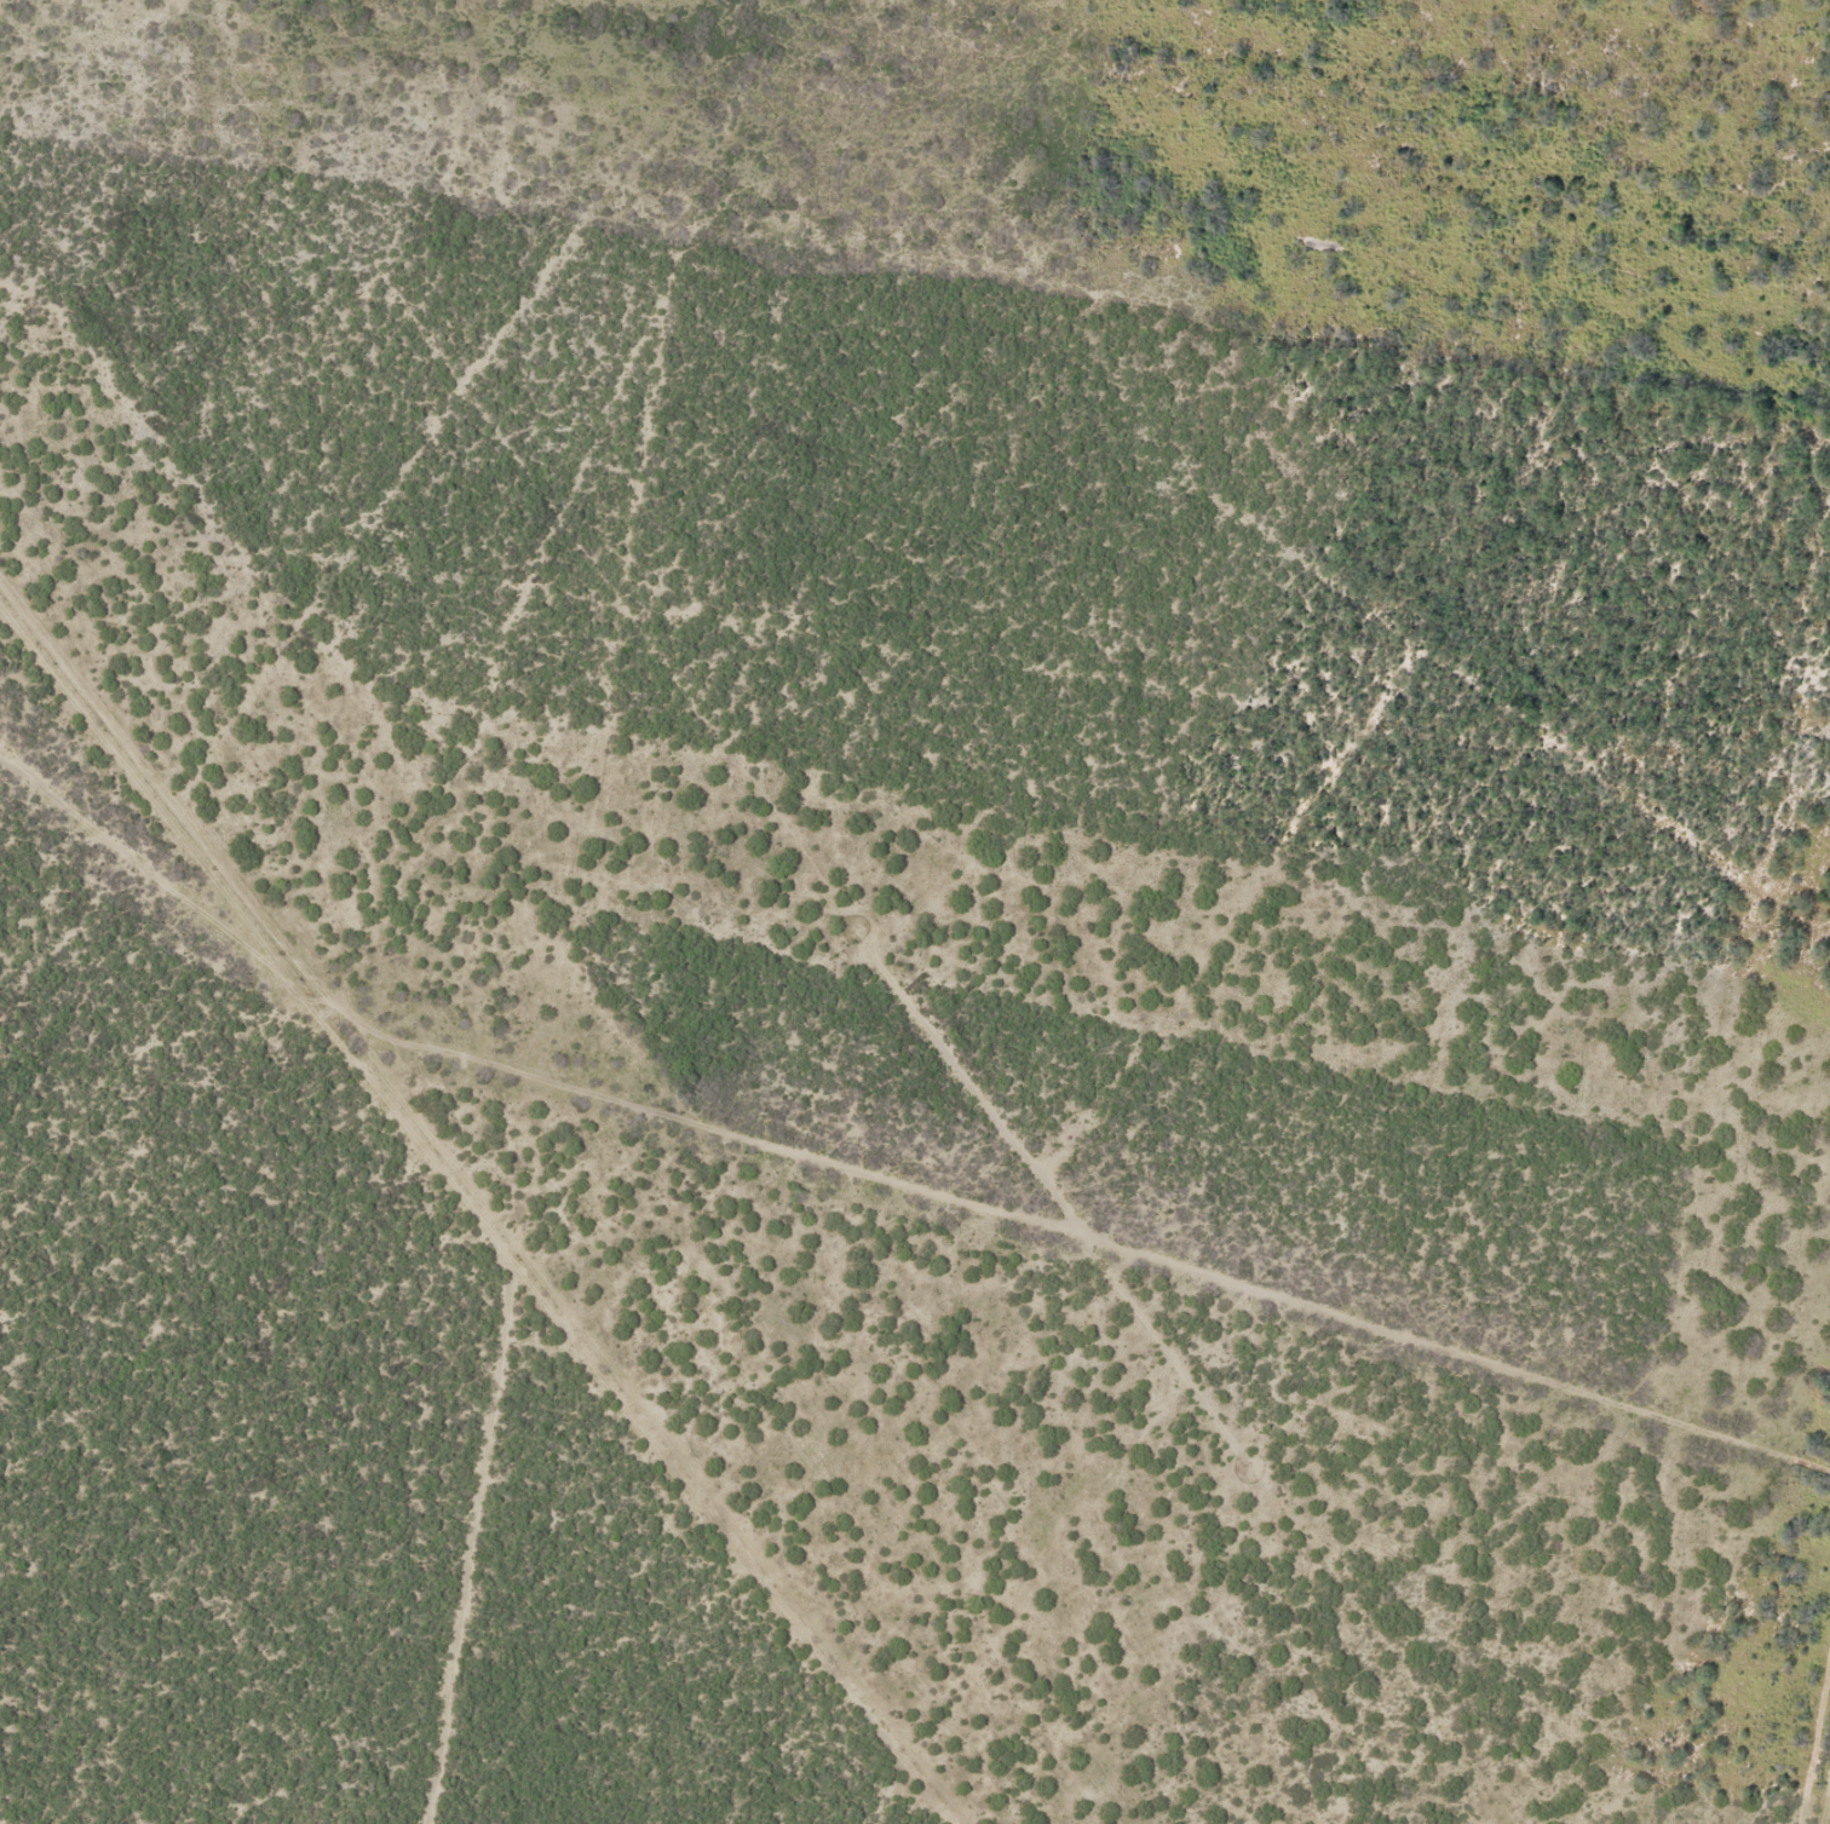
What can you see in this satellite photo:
road: (1823, 1757)

